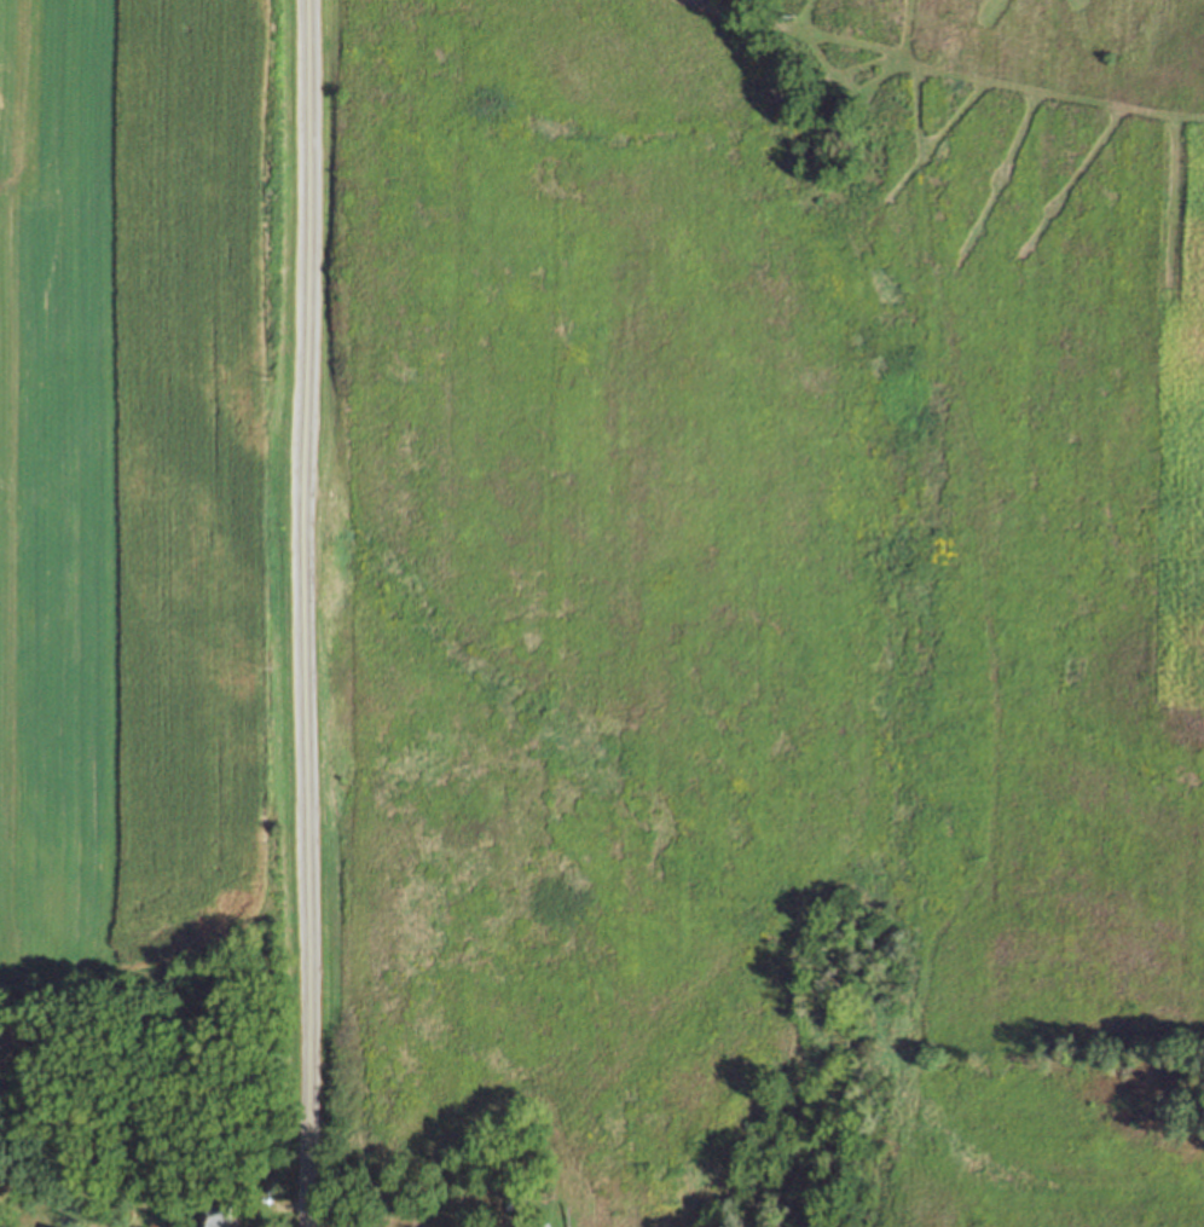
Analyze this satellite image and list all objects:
road: (34, 164)
road: (303, 613)
building: (202, 1163)
building: (273, 1185)
building: (216, 1214)
road: (509, 1220)

